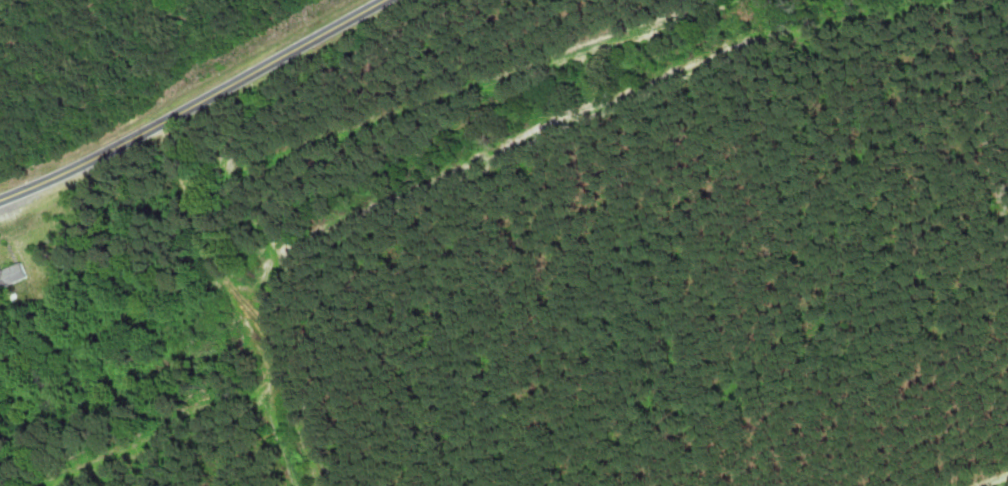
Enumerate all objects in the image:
road: (194, 104)
building: (11, 275)

